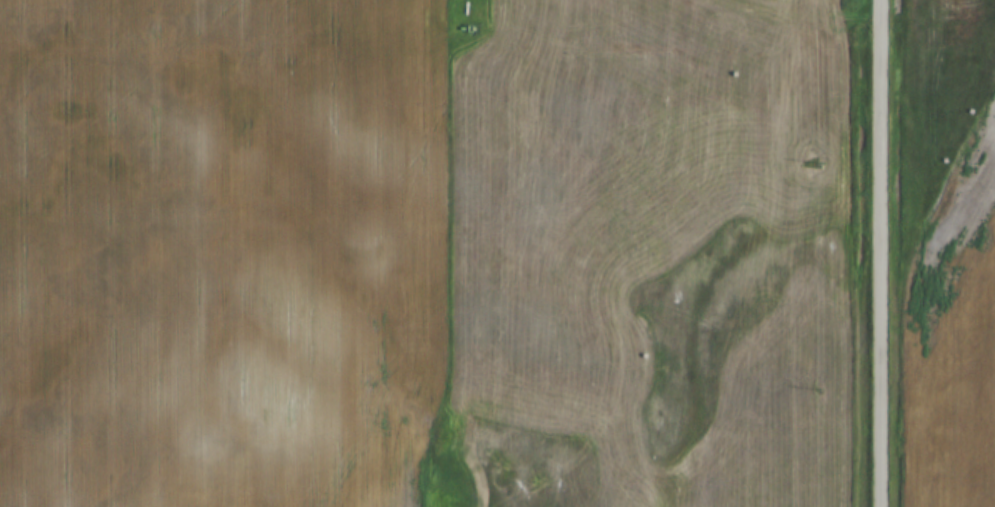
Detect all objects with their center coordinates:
road: (881, 253)

